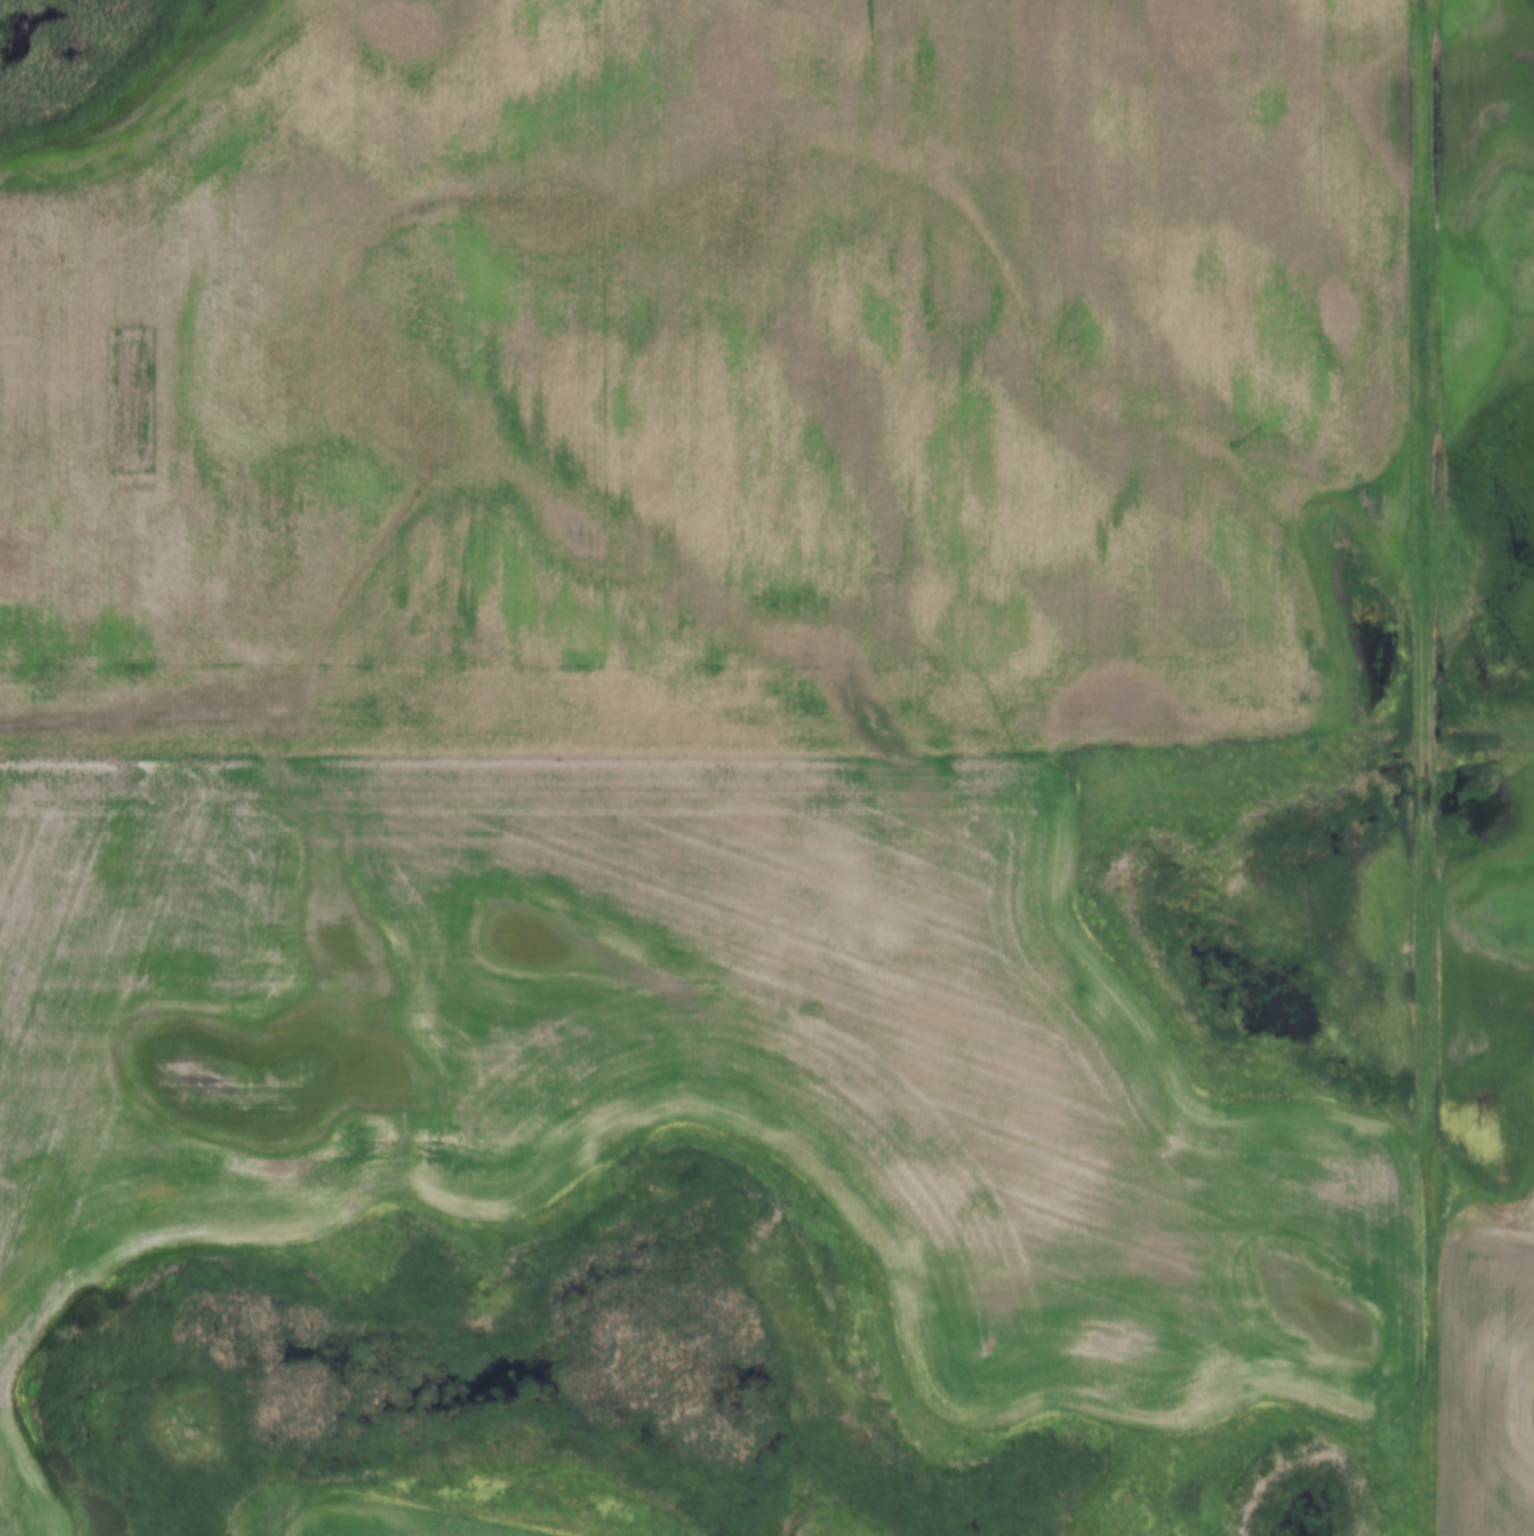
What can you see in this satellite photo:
road: (767, 751)
road: (1428, 767)

